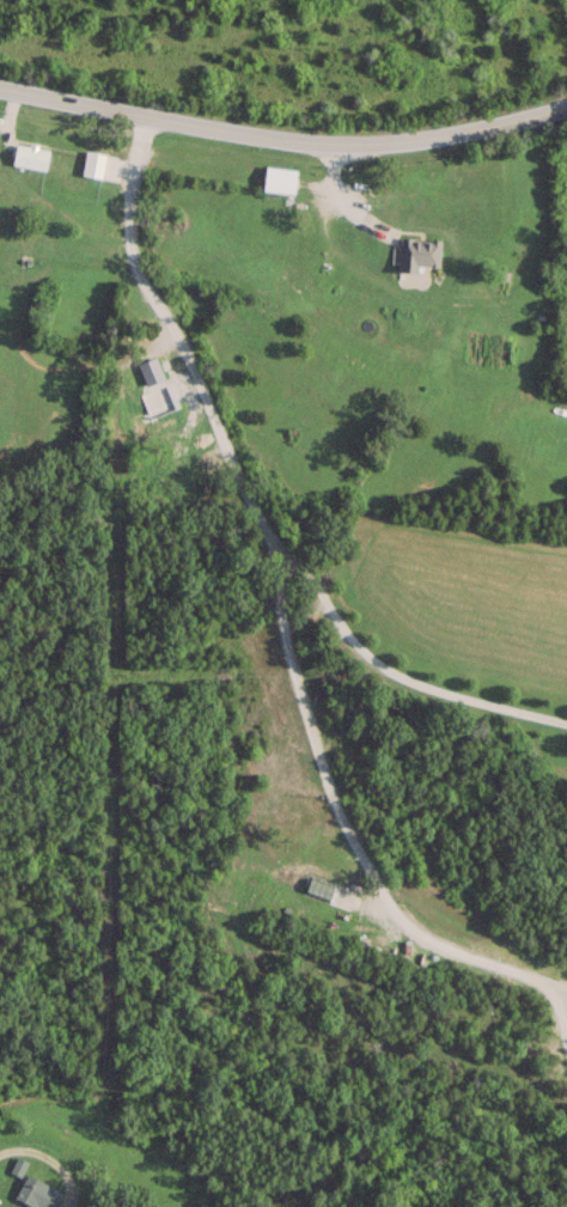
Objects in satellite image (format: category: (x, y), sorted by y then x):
road: (283, 135)
building: (5, 150)
building: (30, 156)
building: (92, 163)
building: (280, 178)
building: (417, 252)
building: (151, 370)
road: (281, 624)
road: (390, 672)
building: (329, 891)
road: (559, 996)
road: (50, 1159)
building: (36, 1193)

